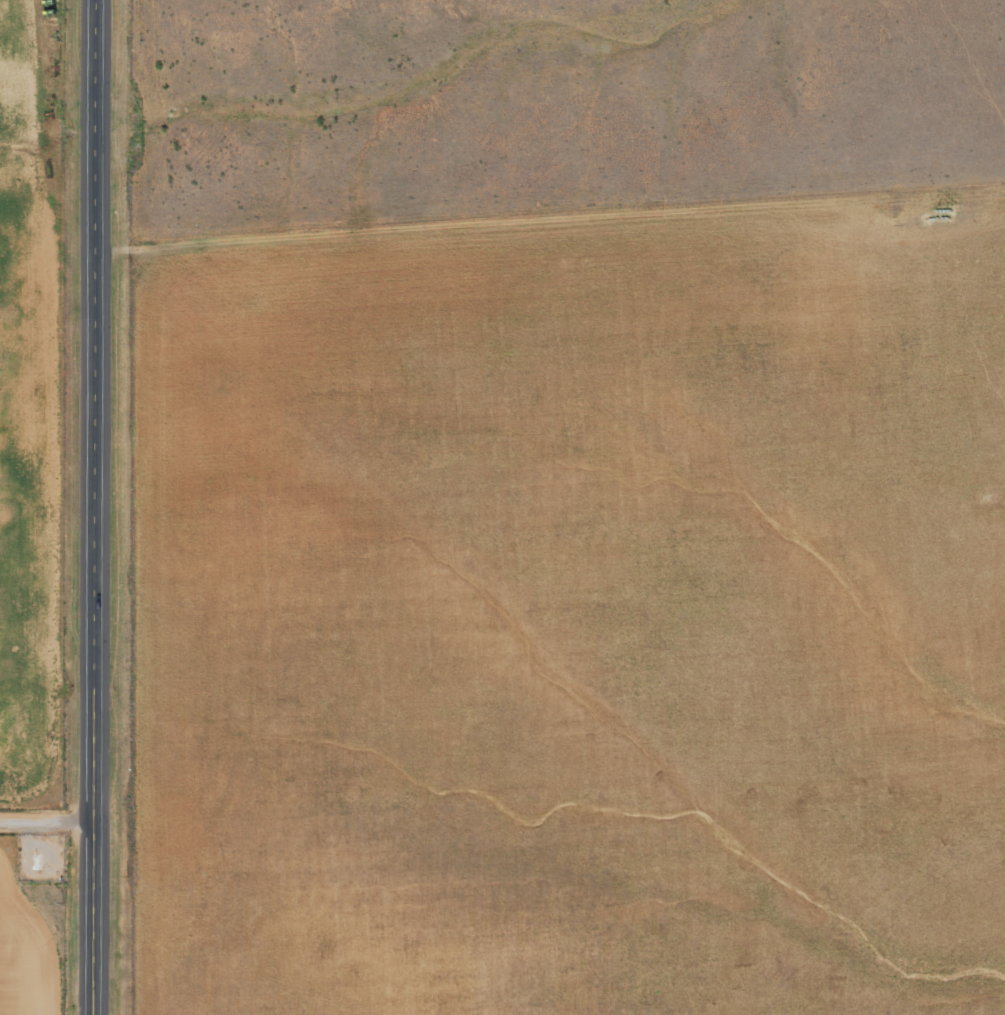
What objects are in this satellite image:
road: (99, 507)
road: (48, 819)

